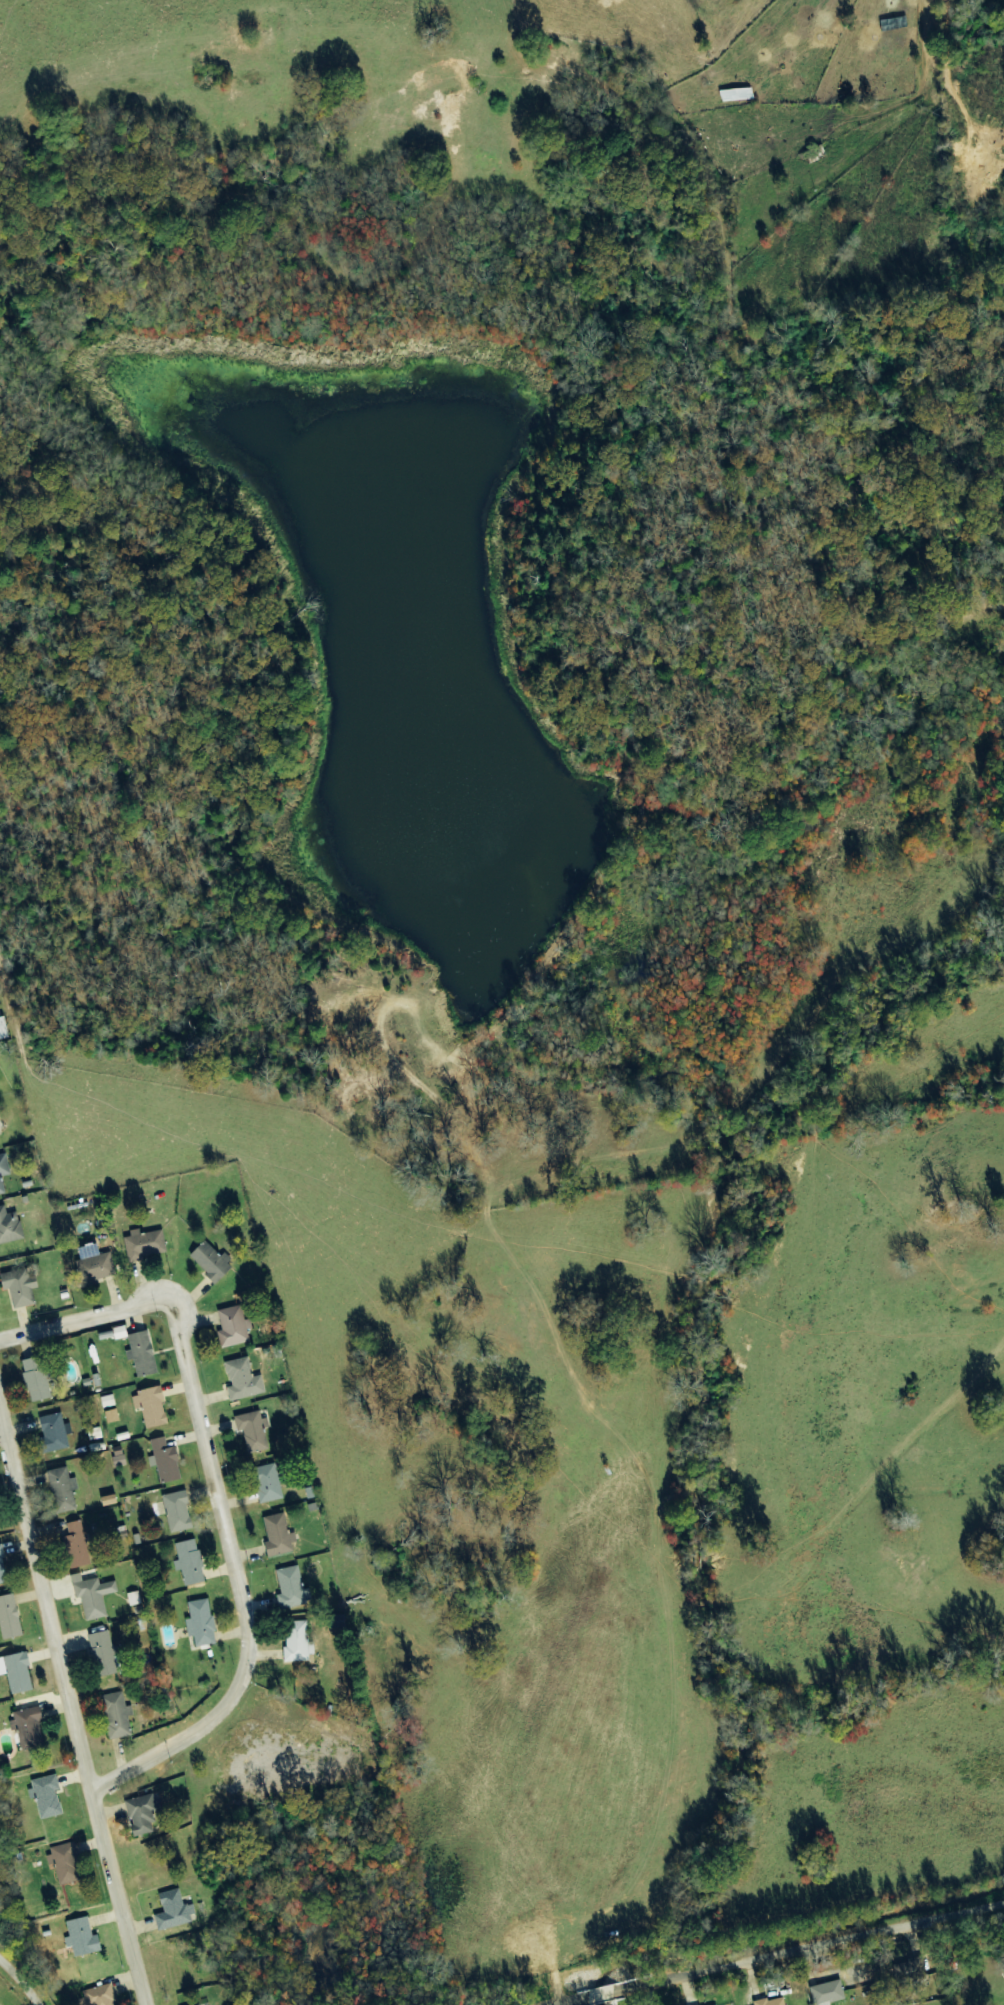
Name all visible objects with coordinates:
building: (0, 1129)
building: (4, 1172)
building: (10, 1227)
building: (147, 1245)
building: (214, 1262)
building: (96, 1264)
building: (22, 1288)
building: (236, 1328)
building: (144, 1355)
building: (39, 1379)
building: (245, 1381)
building: (109, 1401)
building: (153, 1407)
building: (113, 1417)
building: (255, 1432)
building: (57, 1434)
building: (120, 1459)
building: (166, 1462)
building: (270, 1484)
building: (64, 1490)
building: (113, 1500)
road: (219, 1500)
building: (179, 1511)
building: (0, 1527)
building: (280, 1536)
building: (78, 1546)
building: (191, 1563)
building: (3, 1568)
building: (293, 1589)
building: (95, 1596)
building: (134, 1599)
building: (11, 1617)
building: (203, 1623)
building: (298, 1642)
building: (108, 1655)
building: (19, 1673)
road: (70, 1705)
building: (118, 1716)
building: (31, 1727)
building: (49, 1796)
building: (144, 1814)
building: (68, 1864)
building: (176, 1912)
building: (88, 1938)
road: (780, 1955)
road: (22, 1972)
building: (828, 1993)
building: (101, 1996)
building: (770, 2002)
building: (204, 2004)

